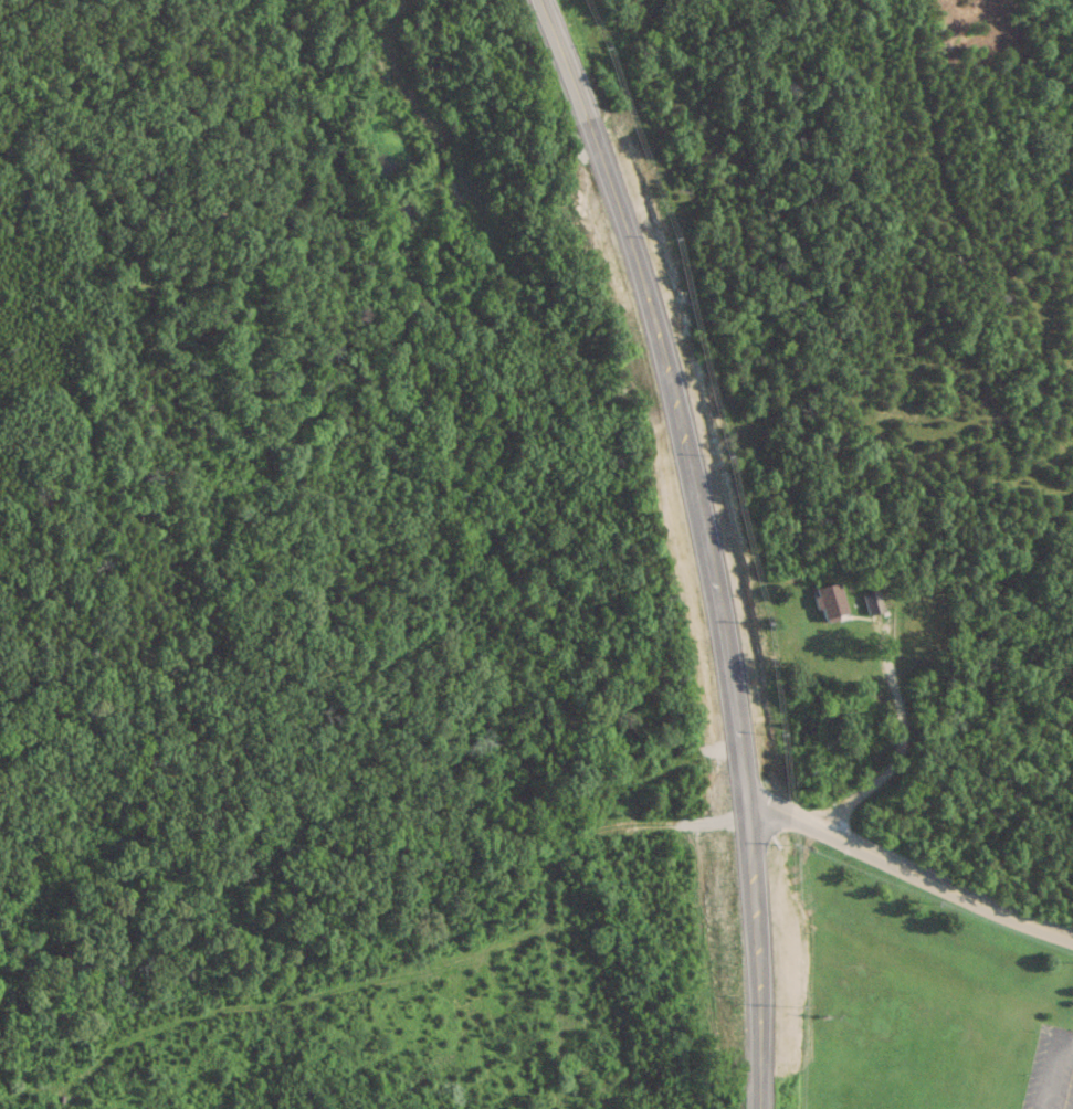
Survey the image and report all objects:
road: (706, 542)
building: (830, 601)
building: (873, 603)
road: (900, 752)
road: (911, 869)
road: (1051, 1066)
parking lot: (1050, 1071)

